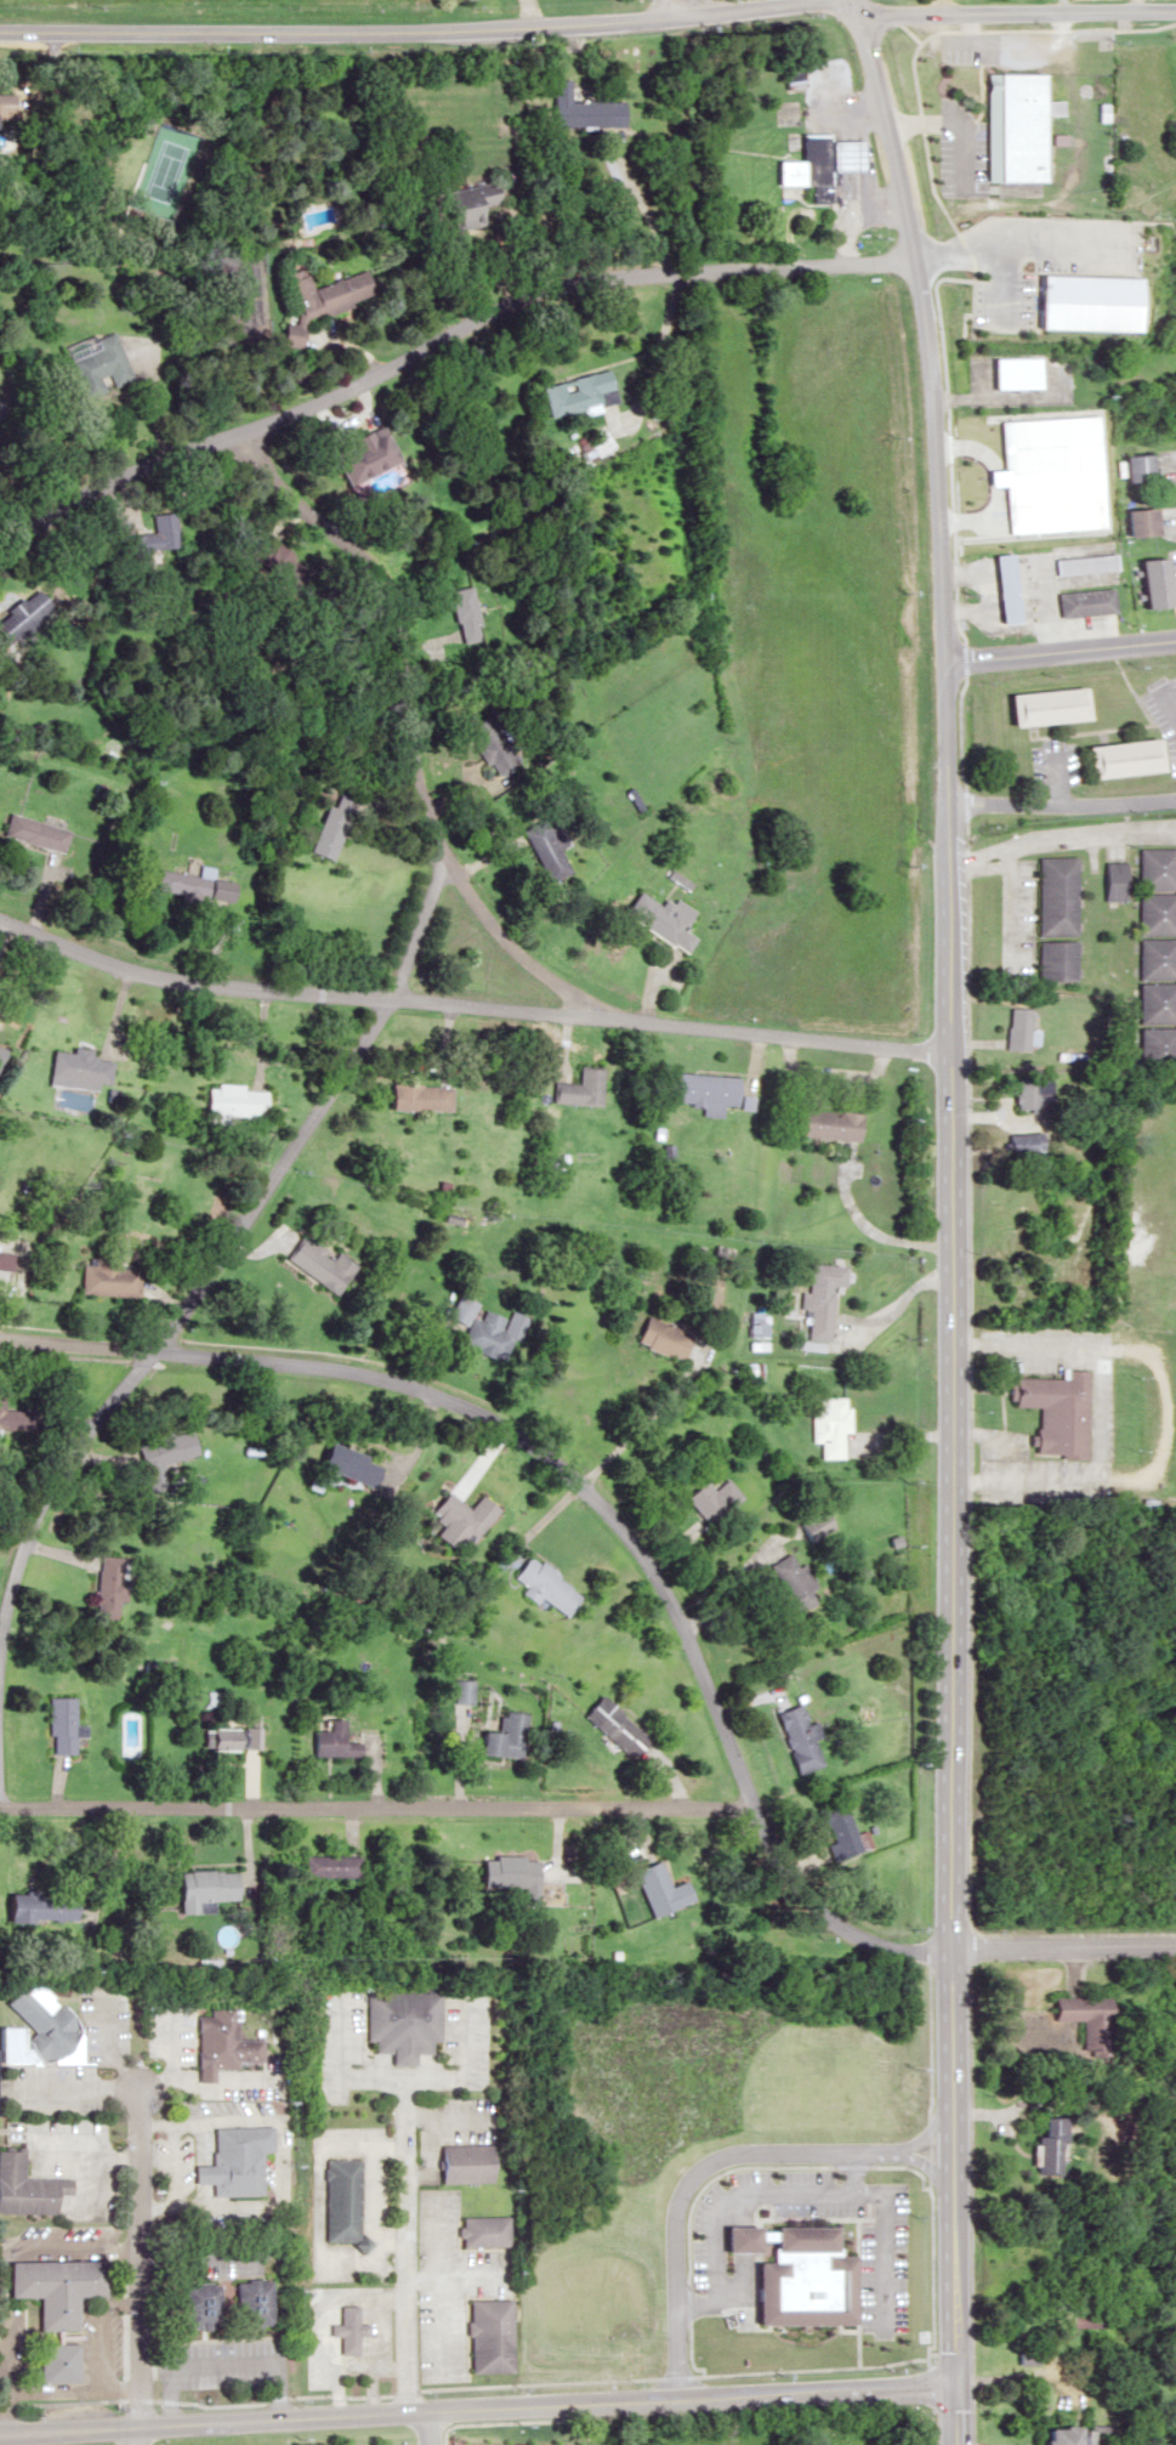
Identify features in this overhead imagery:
road: (680, 7)
road: (1015, 12)
road: (409, 30)
building: (790, 74)
building: (575, 109)
building: (1009, 125)
building: (816, 163)
building: (464, 205)
building: (1092, 223)
building: (317, 299)
road: (438, 339)
building: (92, 363)
building: (1011, 371)
building: (575, 393)
building: (592, 444)
building: (356, 454)
building: (1079, 464)
building: (1039, 466)
building: (1134, 466)
building: (1138, 521)
building: (155, 533)
building: (1086, 563)
building: (1149, 582)
building: (1004, 588)
building: (1085, 602)
building: (17, 613)
building: (464, 613)
road: (1057, 651)
road: (408, 682)
road: (1166, 703)
building: (1040, 705)
building: (490, 742)
building: (1112, 758)
road: (1053, 773)
road: (1058, 804)
building: (322, 832)
building: (32, 833)
road: (1056, 833)
building: (544, 850)
building: (1148, 868)
building: (1104, 880)
building: (189, 885)
building: (1049, 895)
road: (1013, 900)
building: (1149, 913)
building: (655, 919)
road: (509, 944)
building: (1151, 958)
building: (1051, 960)
building: (1152, 1002)
road: (470, 1004)
building: (1011, 1028)
building: (1153, 1046)
building: (83, 1071)
building: (575, 1089)
building: (700, 1090)
building: (1024, 1094)
building: (413, 1097)
building: (228, 1101)
building: (820, 1124)
building: (1016, 1144)
road: (951, 1218)
road: (876, 1225)
building: (10, 1260)
building: (317, 1263)
building: (108, 1278)
building: (819, 1298)
road: (899, 1300)
road: (188, 1304)
building: (478, 1328)
building: (659, 1338)
building: (1051, 1411)
building: (12, 1418)
building: (826, 1425)
building: (172, 1447)
building: (334, 1459)
road: (590, 1493)
building: (712, 1498)
building: (454, 1519)
building: (791, 1584)
building: (541, 1585)
building: (110, 1587)
building: (462, 1691)
building: (59, 1725)
building: (609, 1726)
building: (502, 1737)
building: (232, 1738)
building: (796, 1738)
building: (326, 1740)
road: (374, 1804)
building: (839, 1831)
building: (326, 1865)
building: (510, 1872)
building: (200, 1888)
building: (654, 1888)
building: (44, 1912)
road: (1063, 1948)
building: (1081, 2016)
building: (402, 2023)
building: (35, 2025)
building: (223, 2042)
building: (1045, 2145)
building: (233, 2161)
road: (710, 2161)
building: (466, 2162)
road: (850, 2171)
building: (24, 2188)
road: (790, 2190)
building: (335, 2199)
road: (407, 2224)
building: (485, 2231)
road: (68, 2251)
road: (444, 2253)
road: (137, 2256)
road: (473, 2273)
building: (794, 2276)
building: (51, 2287)
road: (341, 2288)
building: (249, 2302)
building: (198, 2305)
road: (445, 2321)
building: (348, 2330)
building: (489, 2335)
road: (97, 2343)
building: (56, 2361)
road: (222, 2362)
road: (1, 2364)
road: (154, 2364)
road: (666, 2373)
road: (50, 2384)
road: (477, 2405)
road: (431, 2426)
road: (136, 2434)
building: (1068, 2435)

